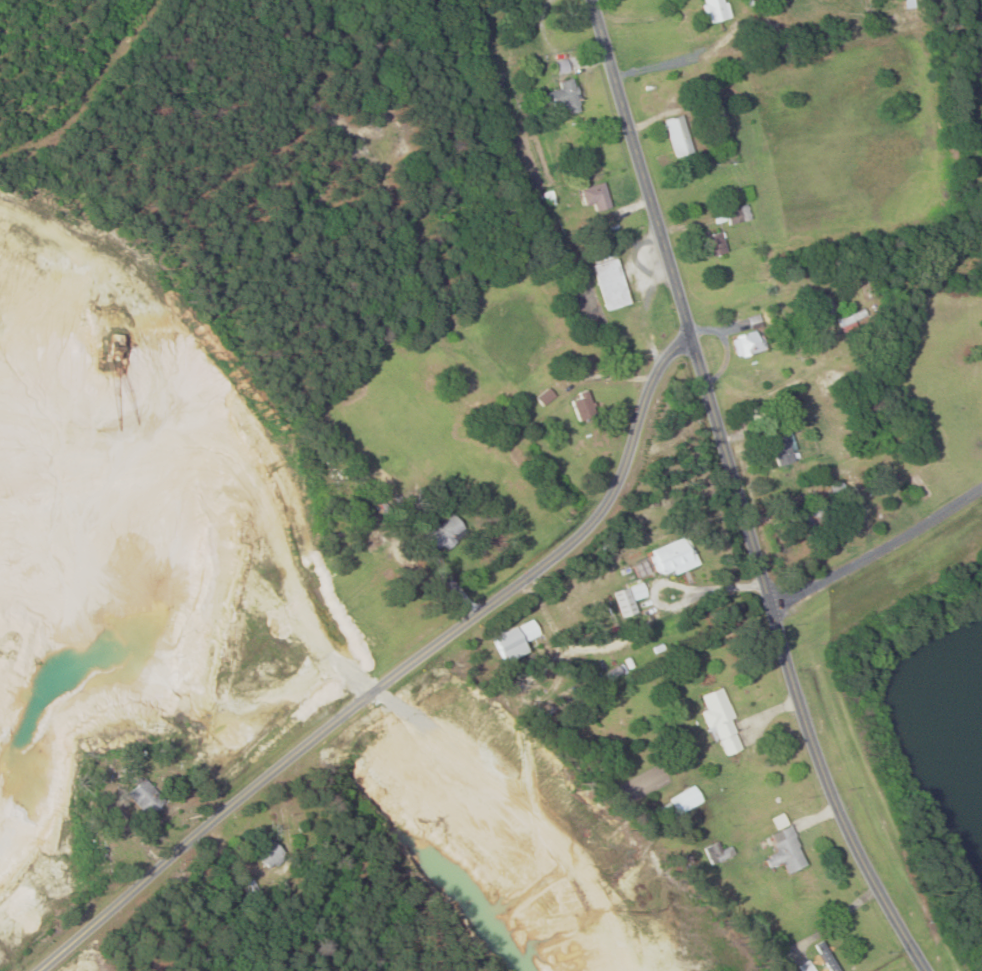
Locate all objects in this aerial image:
building: (716, 10)
building: (562, 68)
building: (562, 96)
building: (713, 109)
building: (679, 136)
building: (359, 155)
road: (643, 167)
building: (595, 198)
building: (713, 245)
building: (610, 280)
building: (749, 344)
building: (545, 397)
building: (583, 407)
building: (784, 447)
building: (812, 517)
building: (444, 535)
road: (878, 550)
building: (673, 558)
building: (513, 642)
road: (790, 660)
road: (400, 674)
building: (721, 717)
building: (145, 797)
building: (686, 801)
building: (785, 847)
building: (721, 853)
building: (268, 854)
building: (827, 956)
building: (808, 966)

